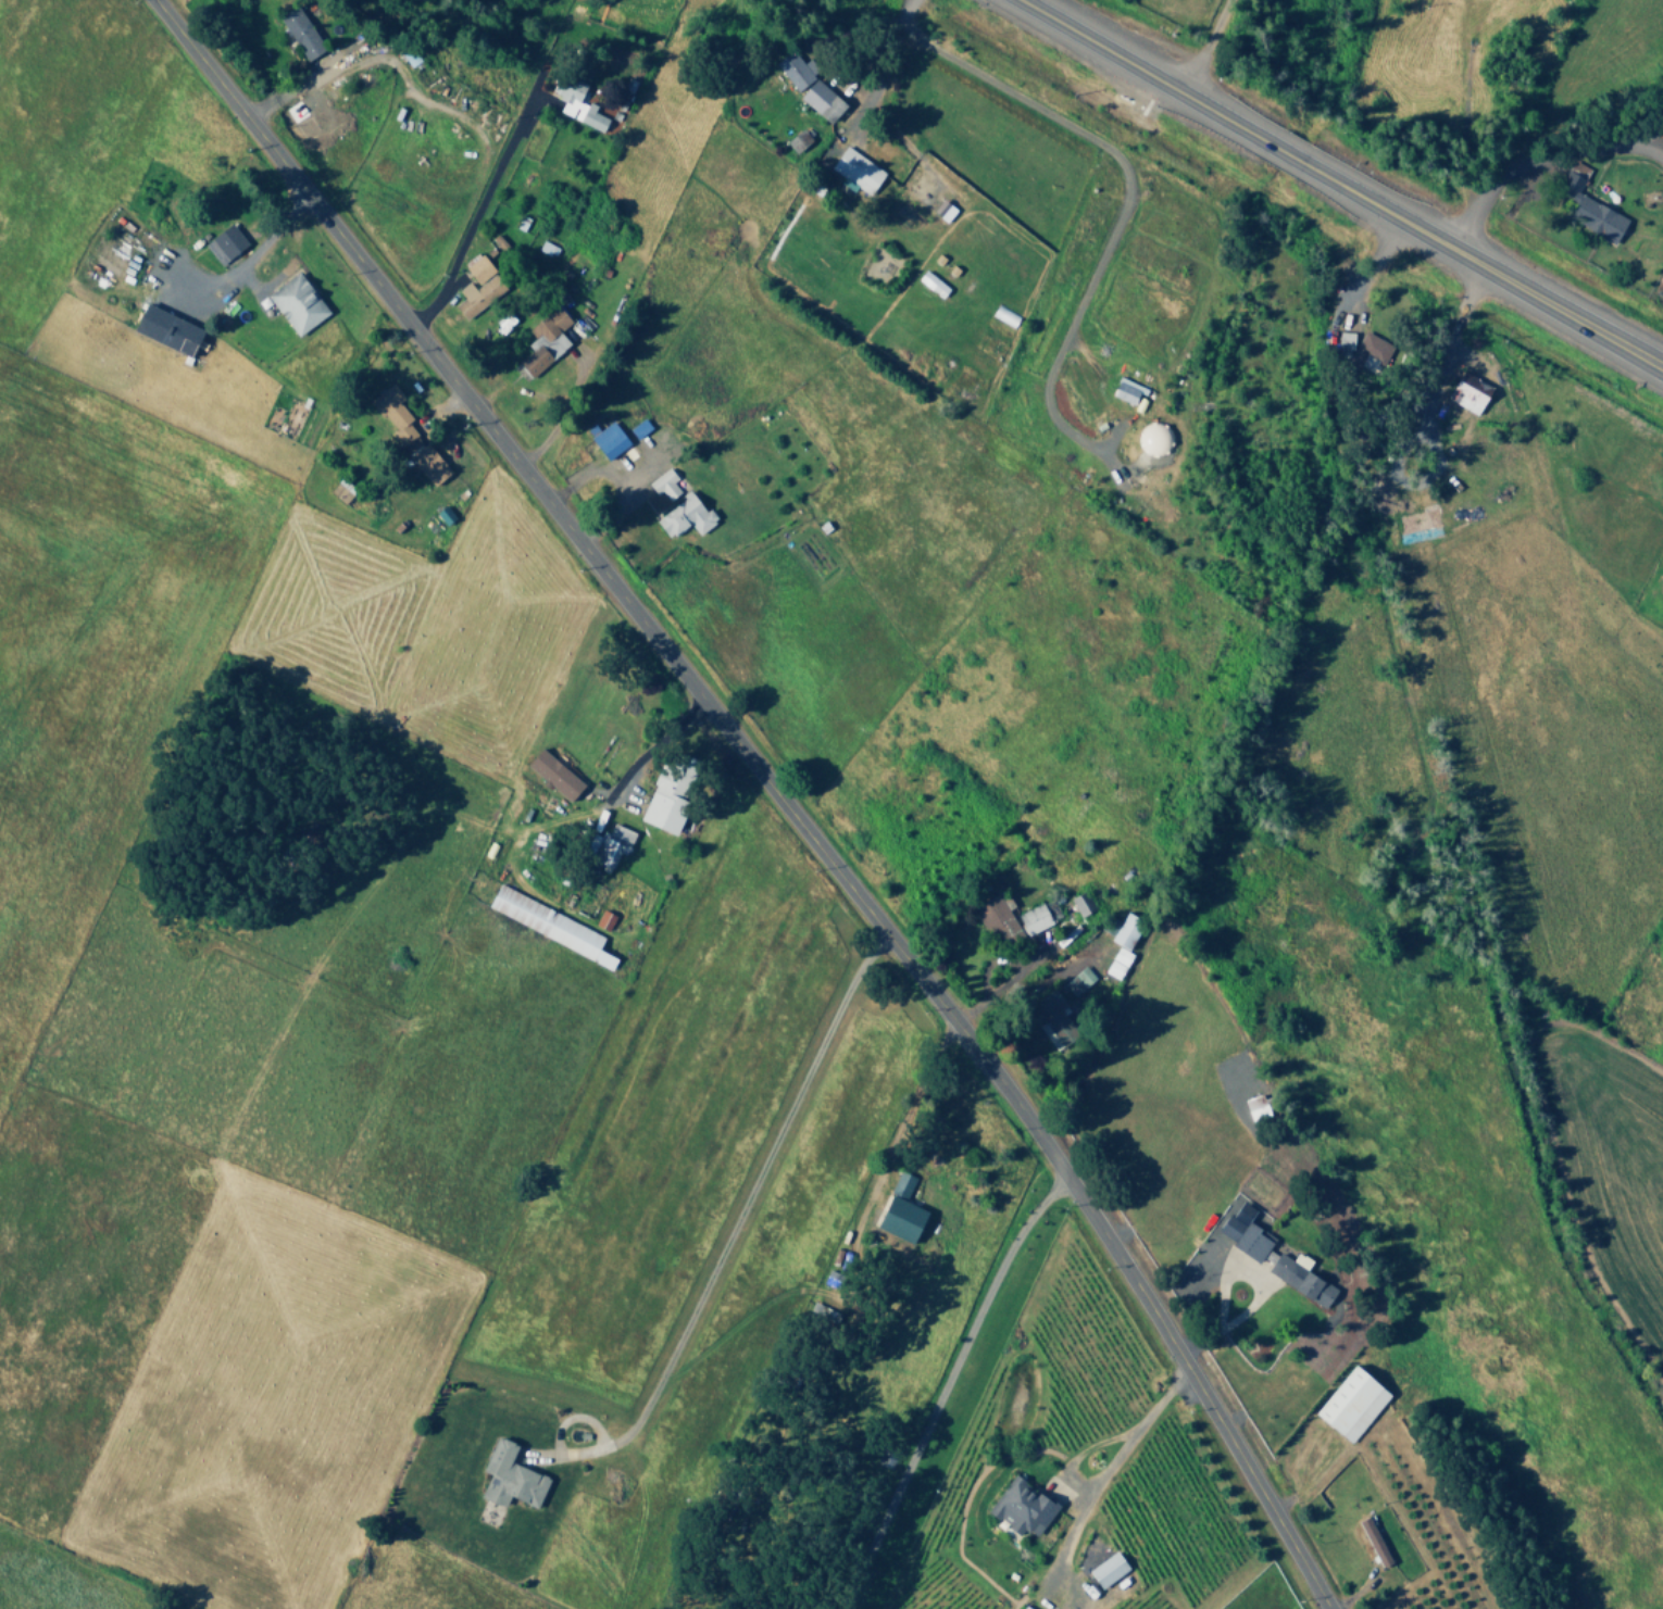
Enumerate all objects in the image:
building: (299, 33)
building: (795, 70)
building: (820, 100)
building: (575, 104)
building: (796, 140)
building: (854, 172)
road: (1339, 185)
road: (1121, 192)
building: (1588, 210)
building: (941, 211)
building: (223, 242)
building: (930, 284)
building: (476, 287)
building: (295, 303)
building: (165, 329)
building: (543, 340)
building: (1343, 341)
building: (1367, 349)
building: (1125, 391)
building: (1467, 392)
building: (393, 417)
building: (607, 440)
building: (426, 464)
building: (662, 483)
building: (683, 517)
building: (552, 774)
road: (768, 784)
building: (666, 792)
building: (611, 844)
building: (1079, 902)
building: (996, 916)
building: (1031, 918)
building: (602, 920)
building: (546, 923)
building: (1124, 930)
building: (1115, 963)
building: (1051, 1016)
building: (1253, 1107)
building: (900, 1184)
building: (899, 1219)
building: (1243, 1232)
building: (1299, 1278)
building: (1349, 1404)
building: (508, 1478)
building: (1020, 1507)
building: (1372, 1541)
building: (1105, 1569)
building: (1022, 1607)

